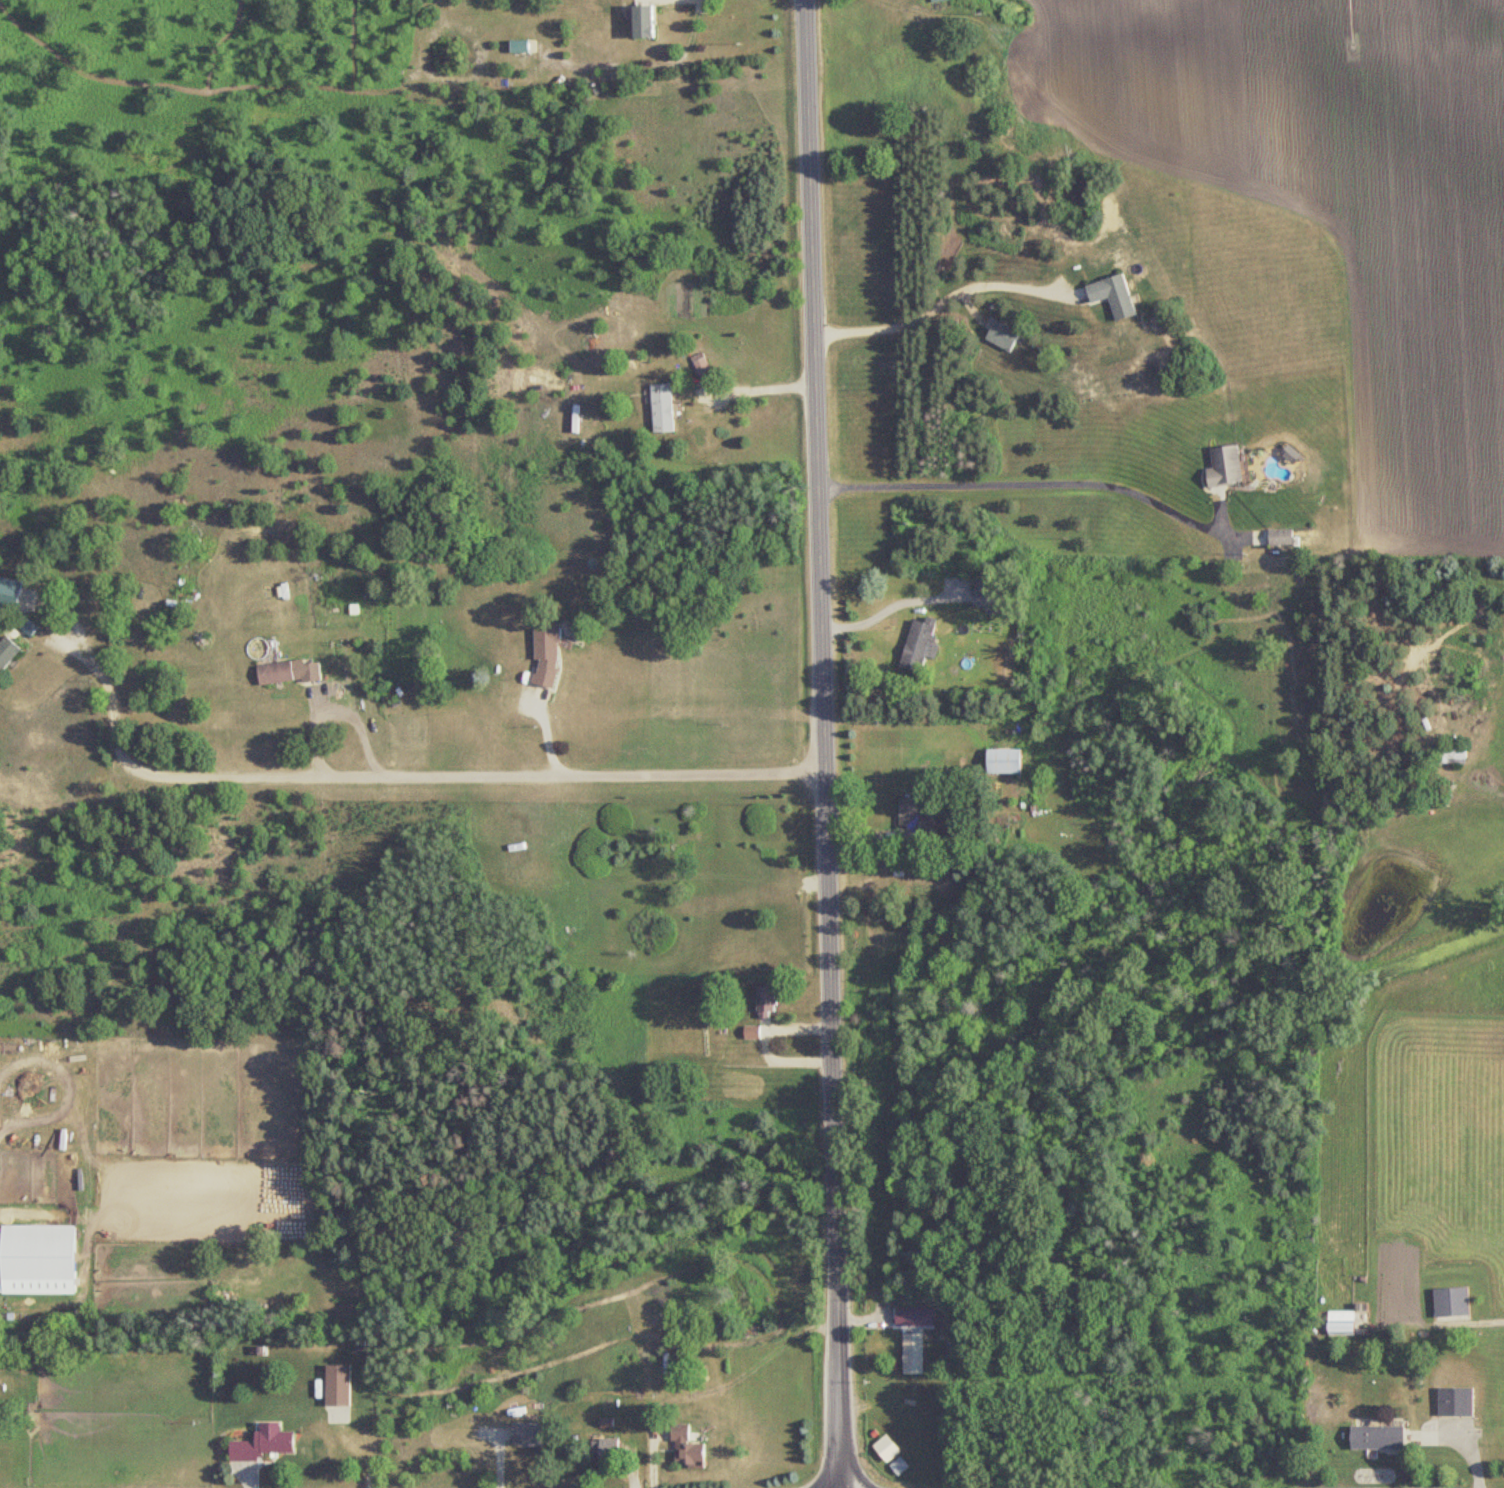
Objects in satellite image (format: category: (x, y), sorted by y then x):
building: (940, 1)
building: (642, 22)
building: (1026, 83)
building: (1114, 296)
road: (935, 302)
building: (1003, 336)
building: (699, 364)
road: (759, 385)
building: (667, 409)
building: (576, 420)
building: (1225, 467)
road: (1028, 479)
building: (1281, 537)
building: (11, 594)
building: (988, 596)
road: (890, 605)
building: (30, 625)
building: (919, 646)
building: (9, 652)
building: (545, 658)
building: (289, 673)
road: (549, 734)
road: (828, 743)
building: (1453, 757)
building: (1003, 762)
road: (661, 774)
road: (244, 776)
building: (911, 823)
building: (766, 1001)
building: (751, 1032)
building: (678, 1074)
building: (37, 1252)
building: (1451, 1302)
building: (920, 1320)
building: (900, 1322)
building: (1341, 1323)
building: (688, 1326)
building: (913, 1353)
building: (337, 1387)
building: (1455, 1401)
road: (657, 1413)
building: (526, 1434)
building: (1377, 1437)
building: (263, 1443)
building: (685, 1450)
building: (885, 1454)
building: (607, 1456)
building: (900, 1467)

